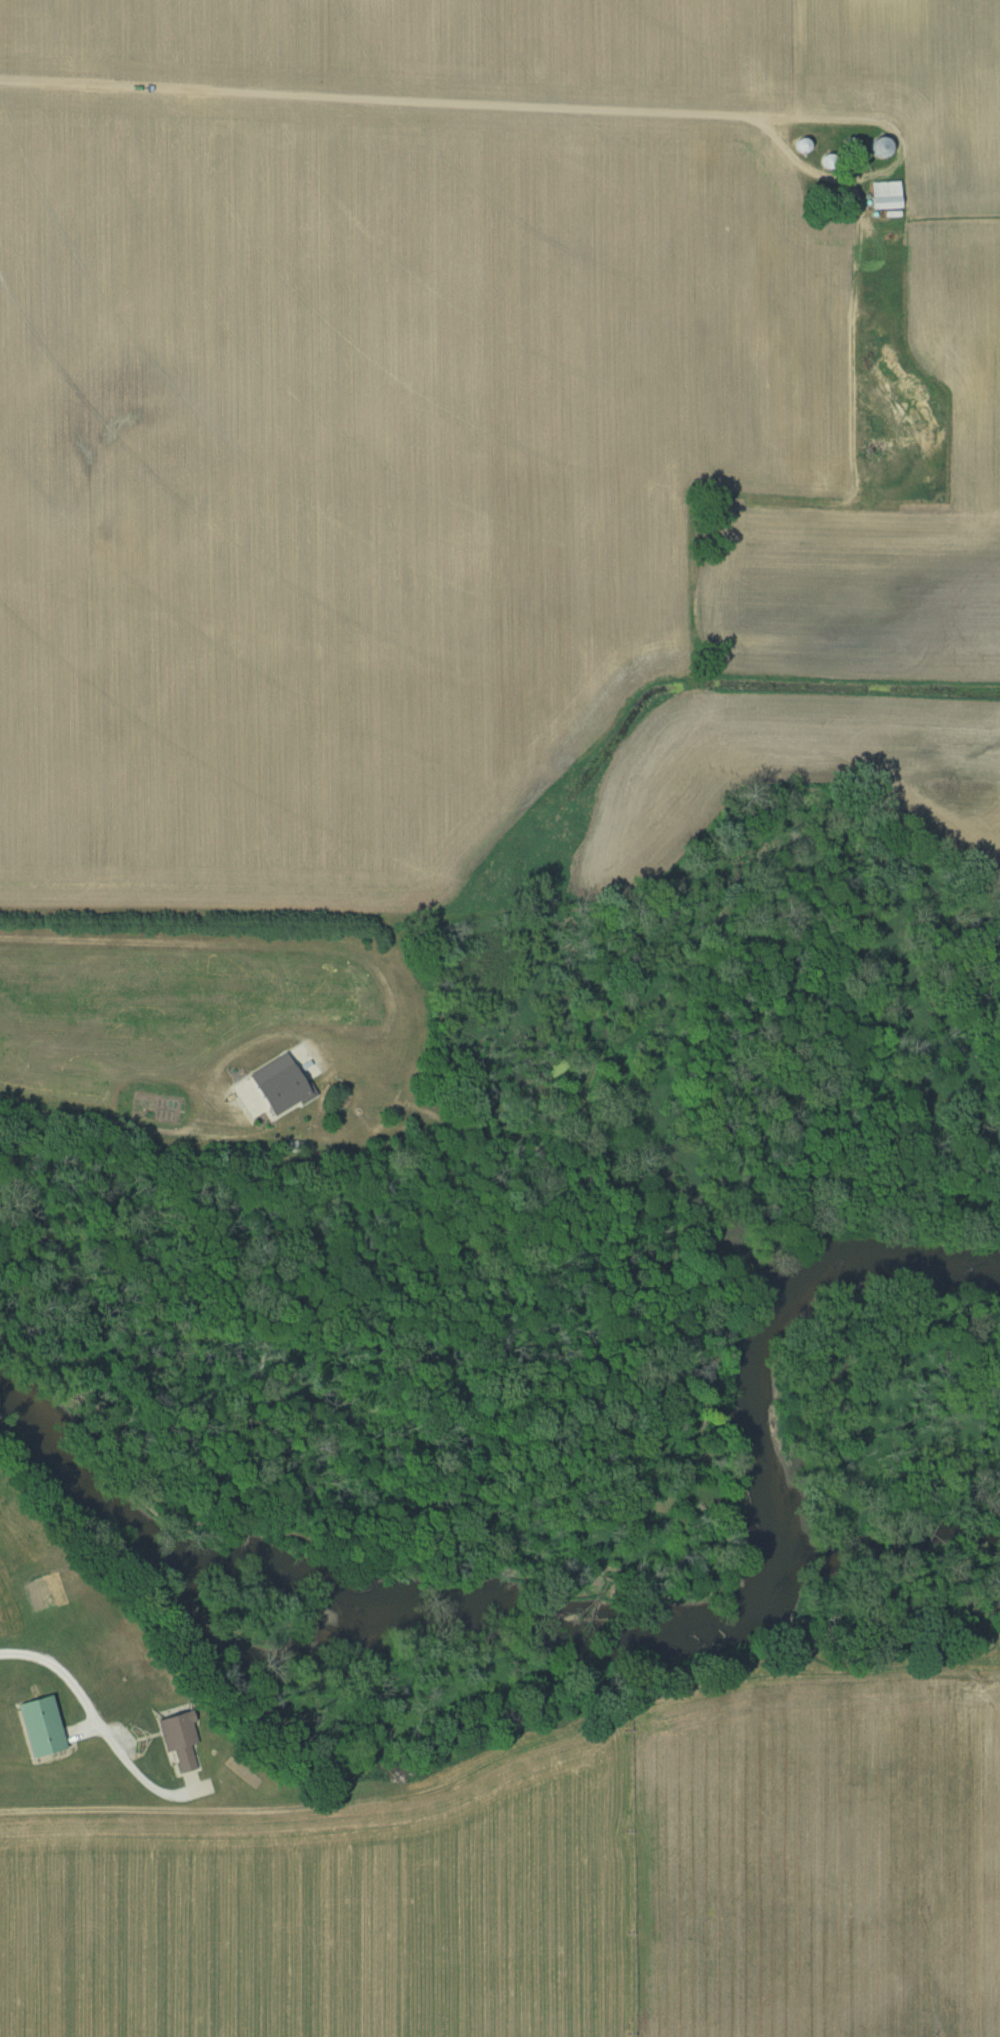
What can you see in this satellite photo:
road: (386, 98)
building: (799, 145)
building: (878, 147)
building: (930, 166)
building: (882, 194)
road: (110, 1070)
river: (601, 1617)
road: (69, 1680)
building: (36, 1725)
building: (176, 1737)

